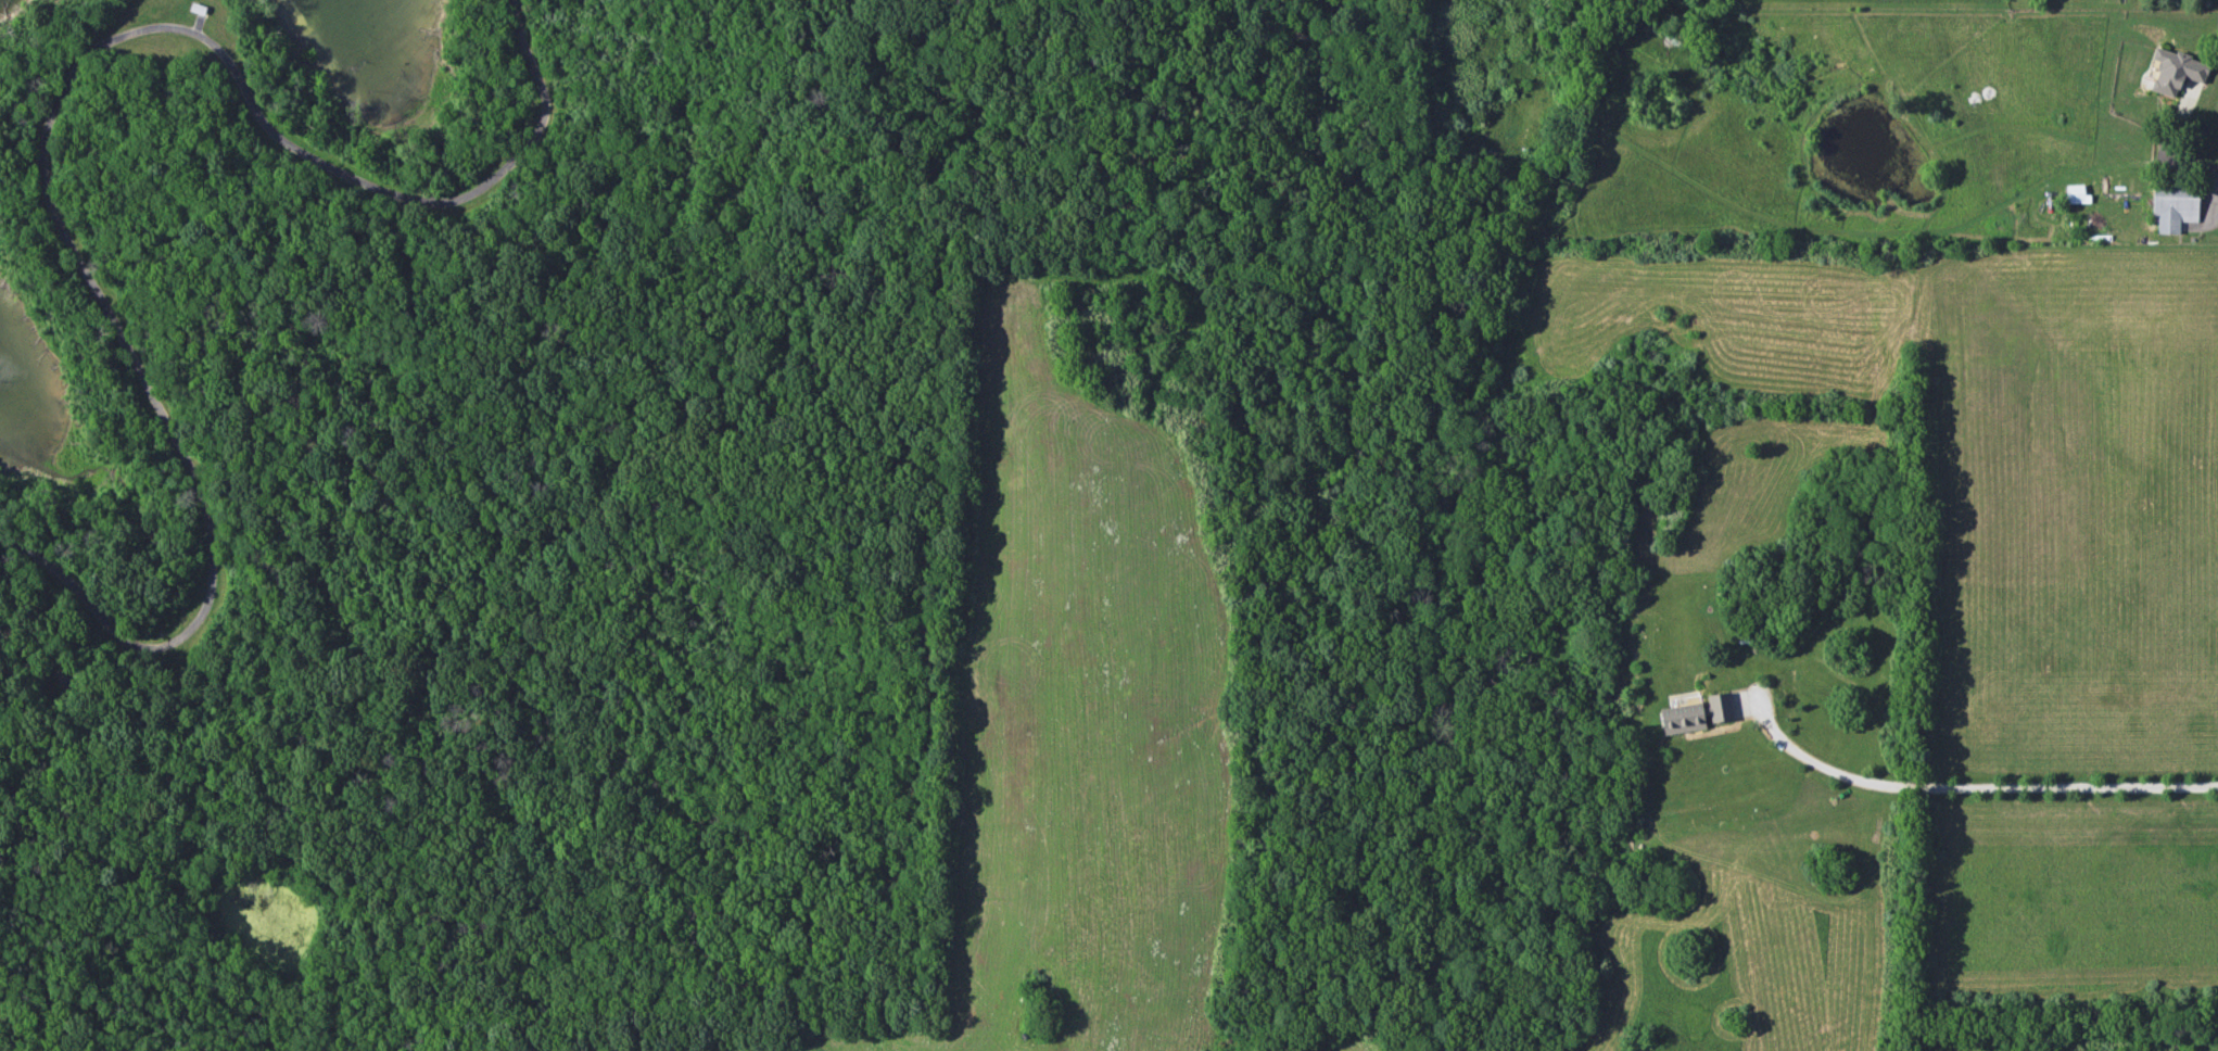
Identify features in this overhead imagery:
road: (1307, 37)
building: (2172, 69)
road: (48, 122)
road: (2183, 160)
building: (2075, 193)
building: (2172, 208)
crop: (2077, 509)
park: (708, 530)
building: (1697, 713)
road: (922, 735)
road: (1972, 786)

